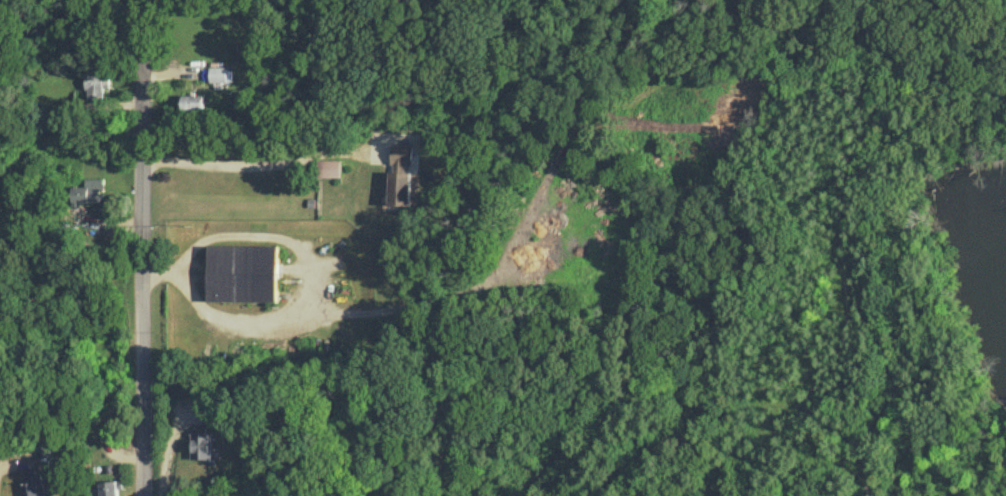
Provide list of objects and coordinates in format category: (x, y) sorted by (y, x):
building: (217, 73)
building: (95, 84)
building: (191, 101)
road: (250, 164)
building: (327, 167)
building: (400, 174)
building: (88, 190)
road: (142, 248)
building: (242, 272)
building: (239, 353)
building: (201, 444)
building: (50, 448)
road: (165, 457)
building: (32, 483)
building: (108, 488)

